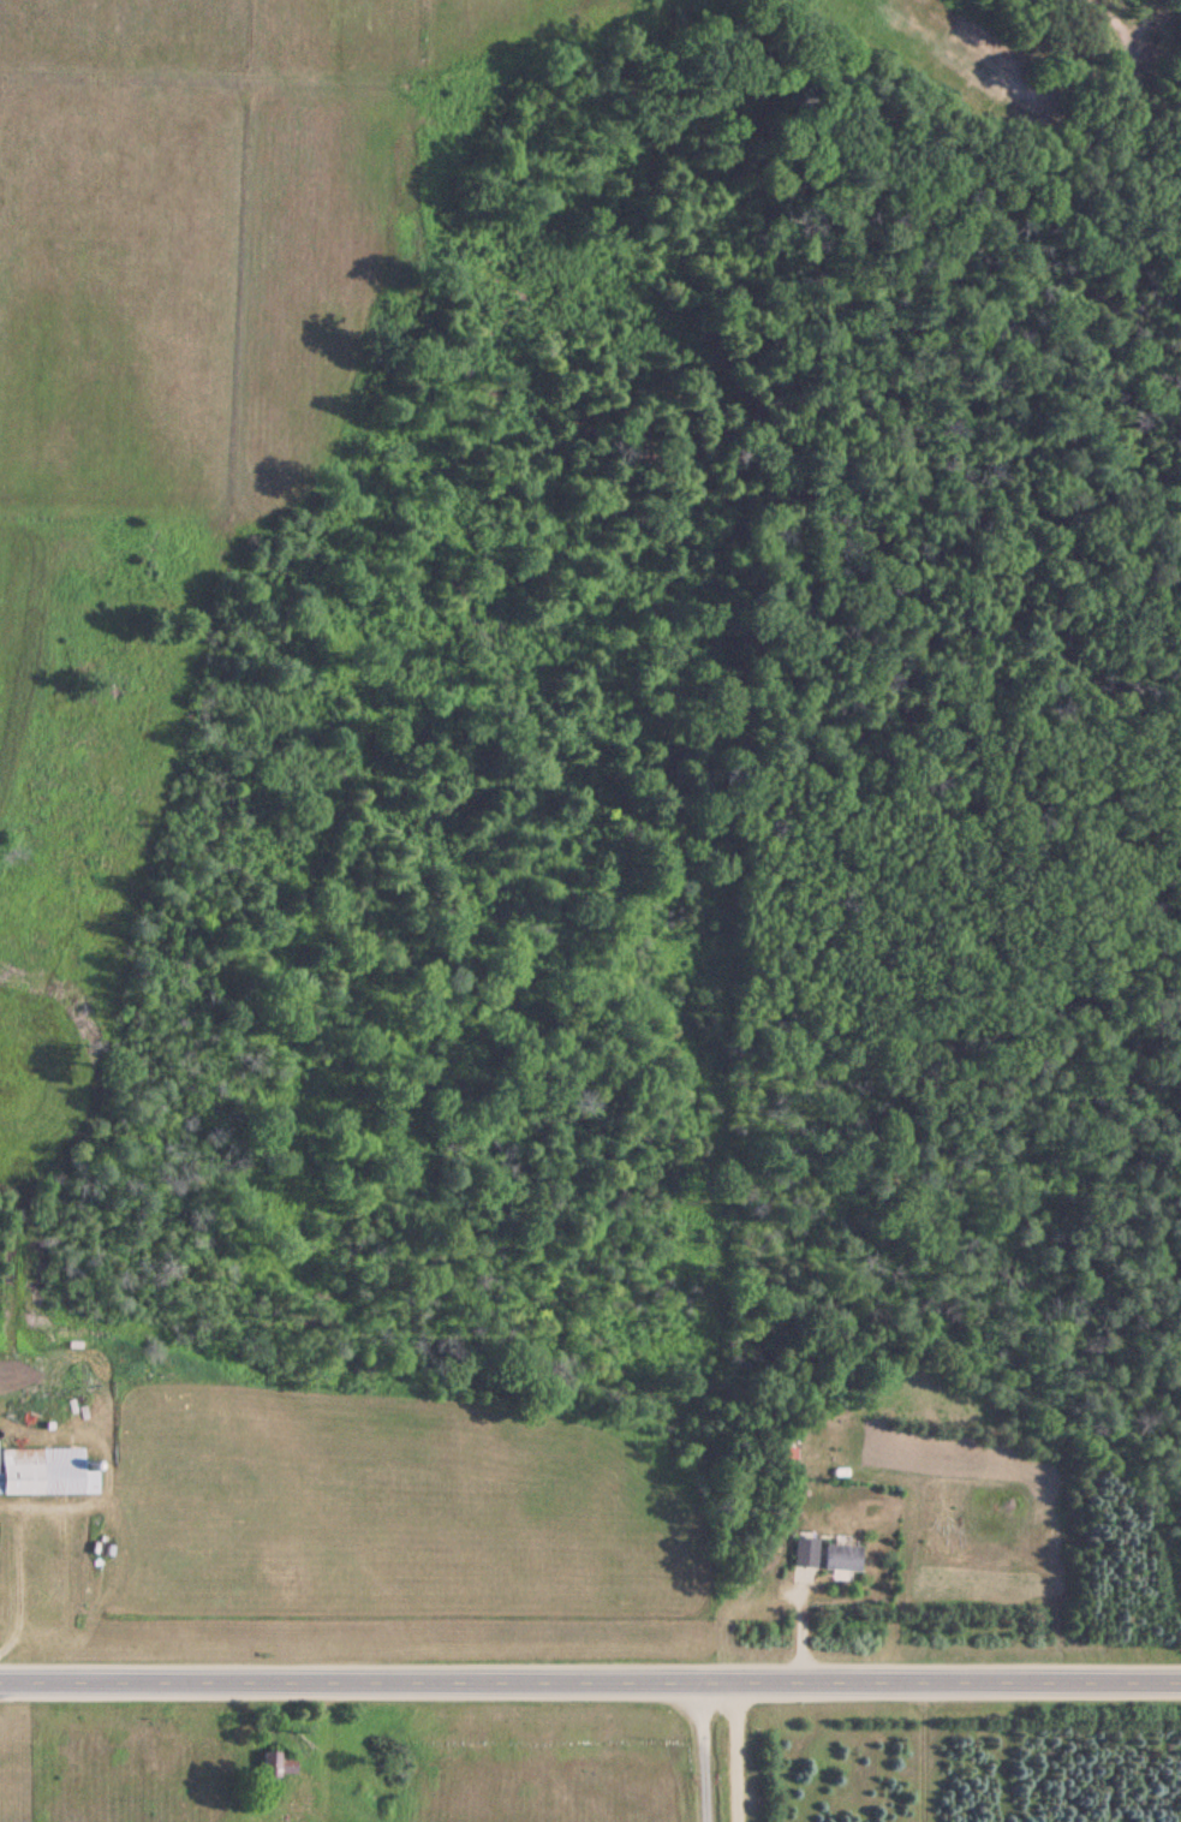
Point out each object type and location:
road: (1127, 5)
crop: (192, 252)
crop: (38, 1085)
building: (43, 1471)
building: (823, 1555)
road: (590, 1678)
road: (697, 1750)
road: (735, 1750)
building: (275, 1764)

